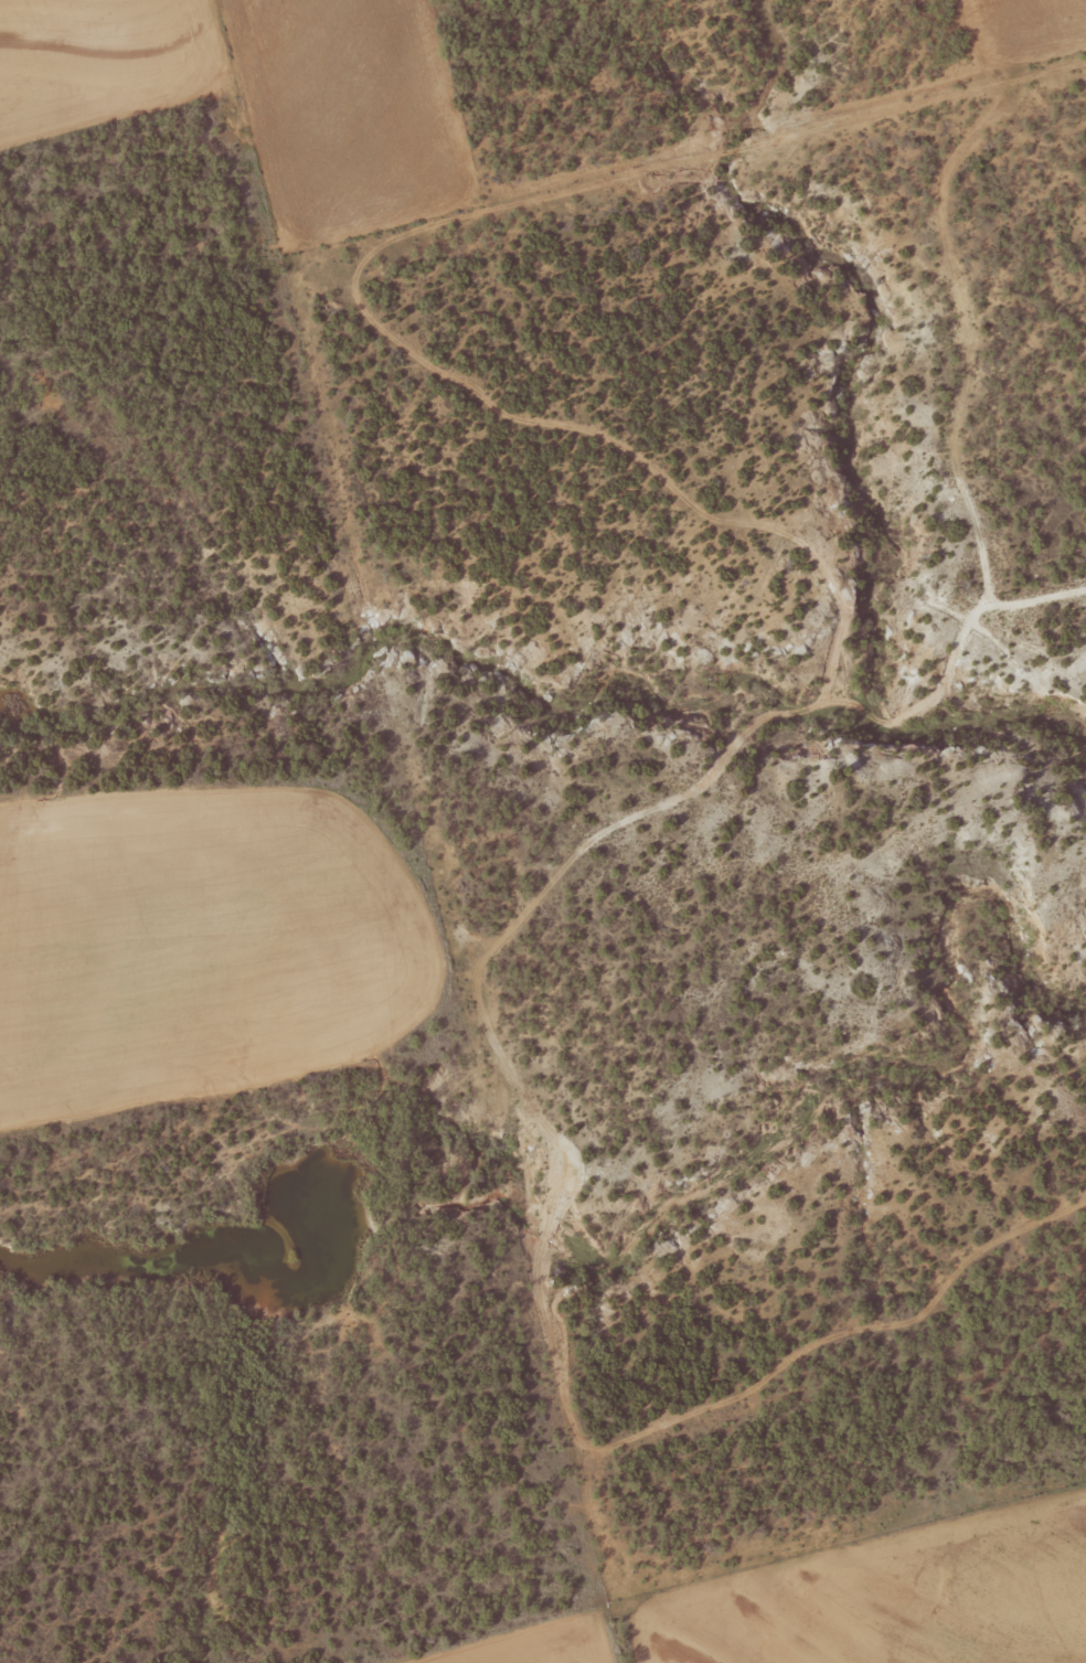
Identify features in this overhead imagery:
road: (748, 1578)

